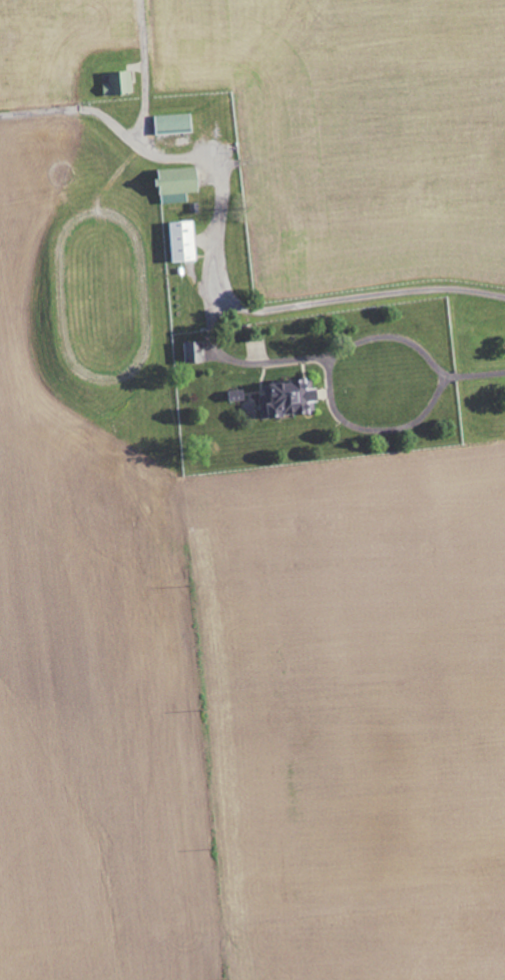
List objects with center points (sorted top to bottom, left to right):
road: (144, 72)
building: (118, 84)
building: (172, 124)
building: (175, 184)
building: (182, 242)
road: (217, 257)
road: (362, 342)
building: (194, 352)
road: (374, 428)

